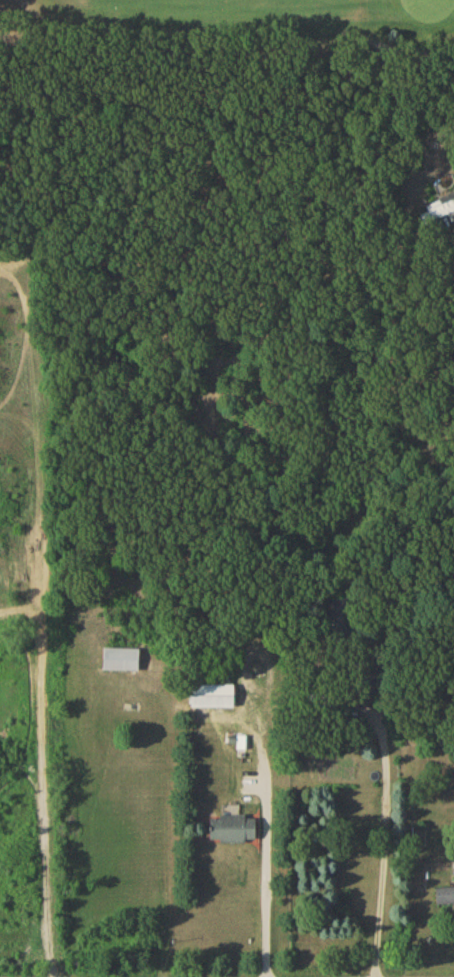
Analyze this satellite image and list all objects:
park: (228, 21)
building: (123, 663)
building: (215, 700)
road: (268, 798)
building: (236, 831)
road: (387, 834)
building: (445, 898)

